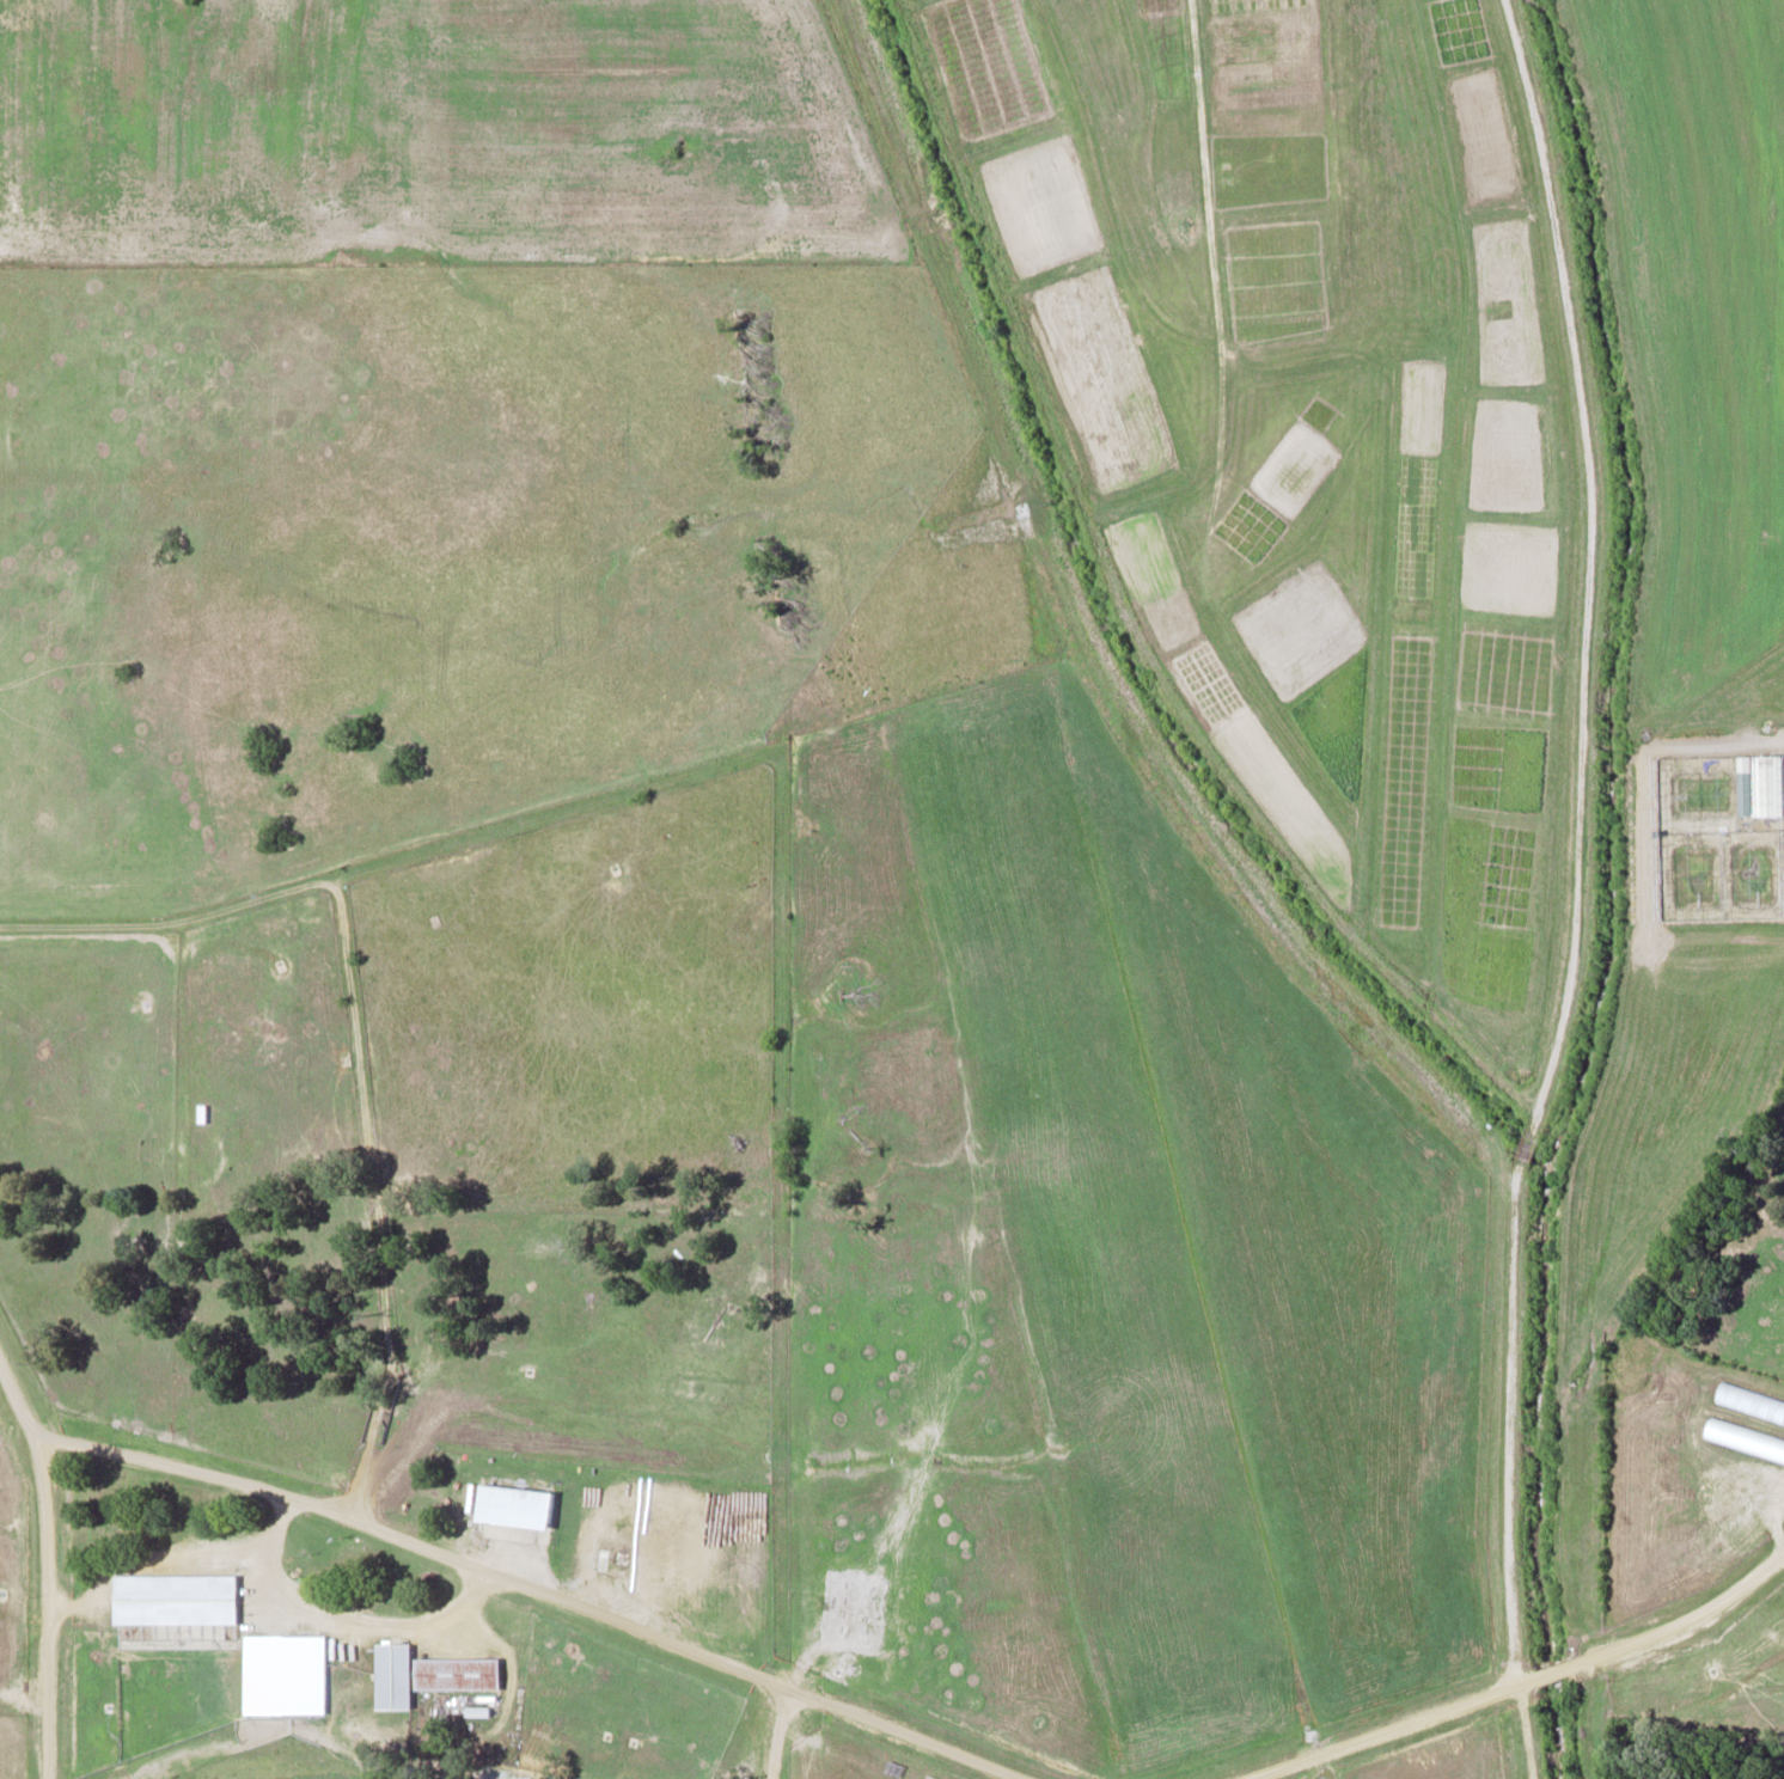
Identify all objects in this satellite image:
building: (1491, 349)
building: (1767, 784)
road: (1580, 889)
building: (1748, 1400)
building: (1743, 1437)
building: (512, 1504)
building: (642, 1537)
road: (489, 1572)
building: (172, 1596)
road: (41, 1607)
building: (282, 1669)
building: (454, 1671)
building: (391, 1674)
road: (1536, 1685)
road: (787, 1738)

